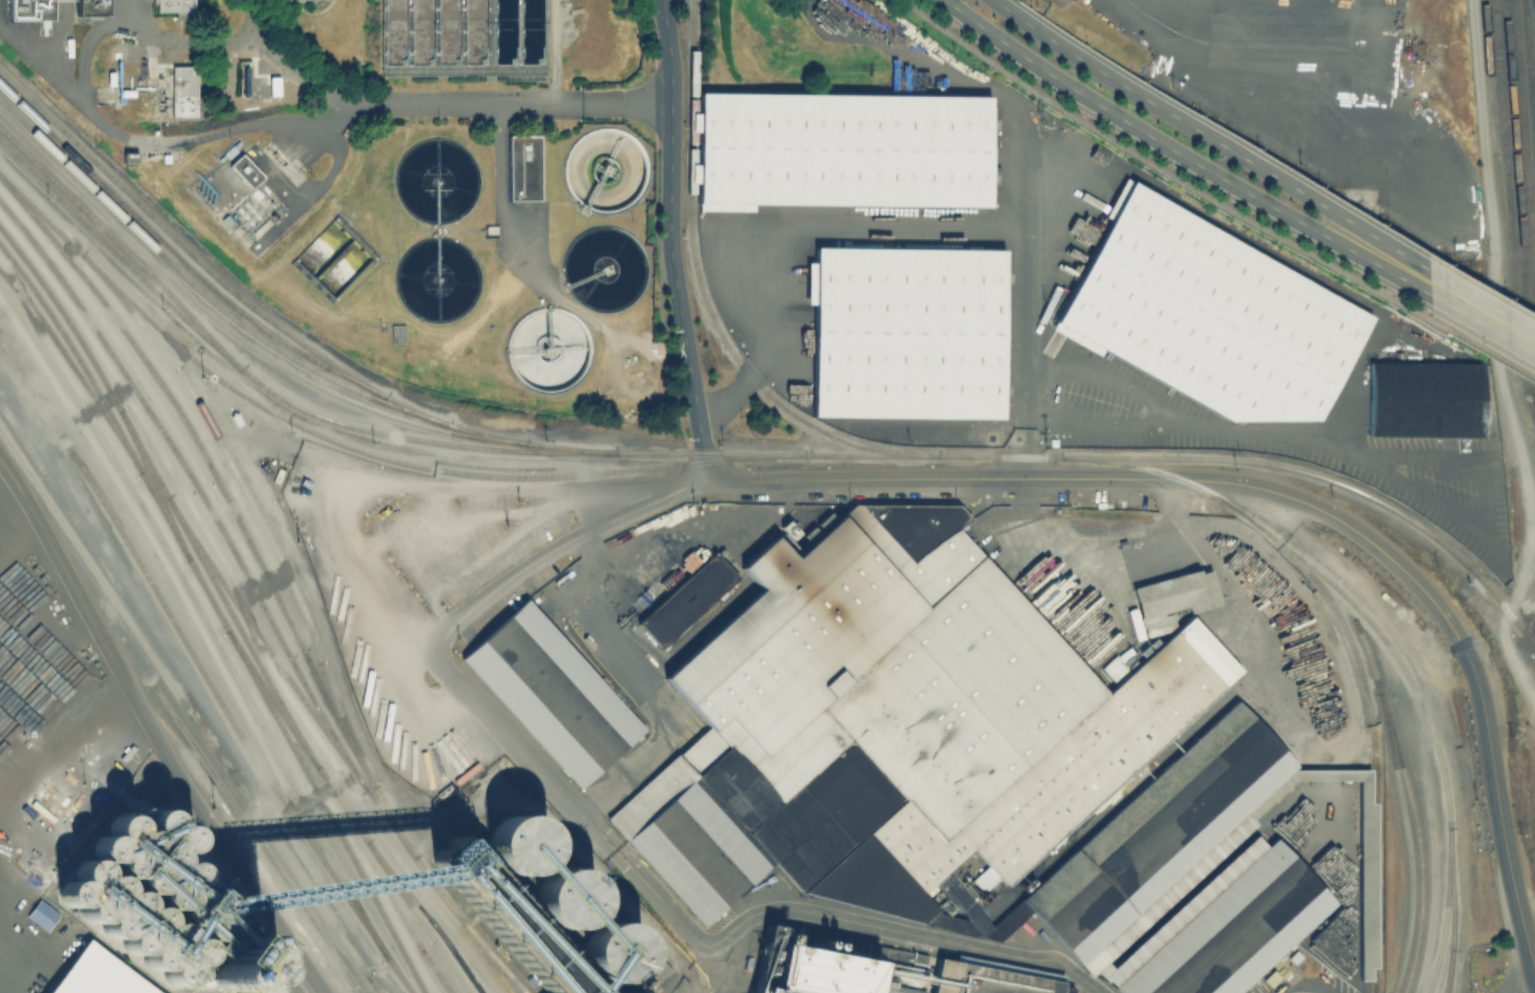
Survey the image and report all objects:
building: (175, 5)
building: (98, 8)
building: (34, 10)
road: (1190, 16)
road: (61, 44)
road: (88, 44)
road: (188, 44)
railway: (1529, 76)
building: (185, 94)
road: (434, 106)
railway: (1524, 136)
road: (165, 141)
road: (1220, 145)
building: (842, 147)
railway: (1505, 152)
road: (1189, 158)
building: (526, 170)
wastewater plant: (403, 174)
railway: (1517, 188)
railway: (1497, 193)
road: (669, 241)
railway: (181, 258)
railway: (201, 289)
railway: (704, 295)
building: (1210, 313)
railway: (180, 314)
road: (1490, 316)
railway: (272, 319)
railway: (233, 328)
building: (907, 330)
railway: (216, 332)
railway: (69, 364)
building: (1425, 396)
railway: (262, 397)
railway: (352, 446)
railway: (1335, 479)
road: (946, 480)
railway: (220, 487)
road: (782, 491)
railway: (1203, 492)
road: (1169, 501)
road: (1020, 503)
railway: (252, 506)
road: (429, 516)
road: (689, 534)
railway: (73, 539)
road: (557, 547)
road: (587, 547)
road: (1103, 561)
railway: (201, 584)
railway: (186, 591)
building: (679, 600)
railway: (260, 601)
railway: (230, 613)
railway: (252, 623)
road: (1460, 648)
railway: (207, 682)
building: (547, 694)
road: (647, 700)
road: (152, 727)
road: (514, 746)
building: (939, 749)
railway: (1373, 765)
railway: (1411, 804)
railway: (263, 821)
railway: (255, 836)
railway: (1408, 855)
building: (123, 876)
building: (41, 914)
railway: (1443, 914)
road: (831, 915)
building: (1223, 927)
railway: (438, 930)
building: (249, 946)
railway: (381, 950)
railway: (407, 962)
railway: (1449, 963)
railway: (435, 970)
building: (85, 975)
building: (977, 981)
railway: (376, 984)
road: (1529, 989)

